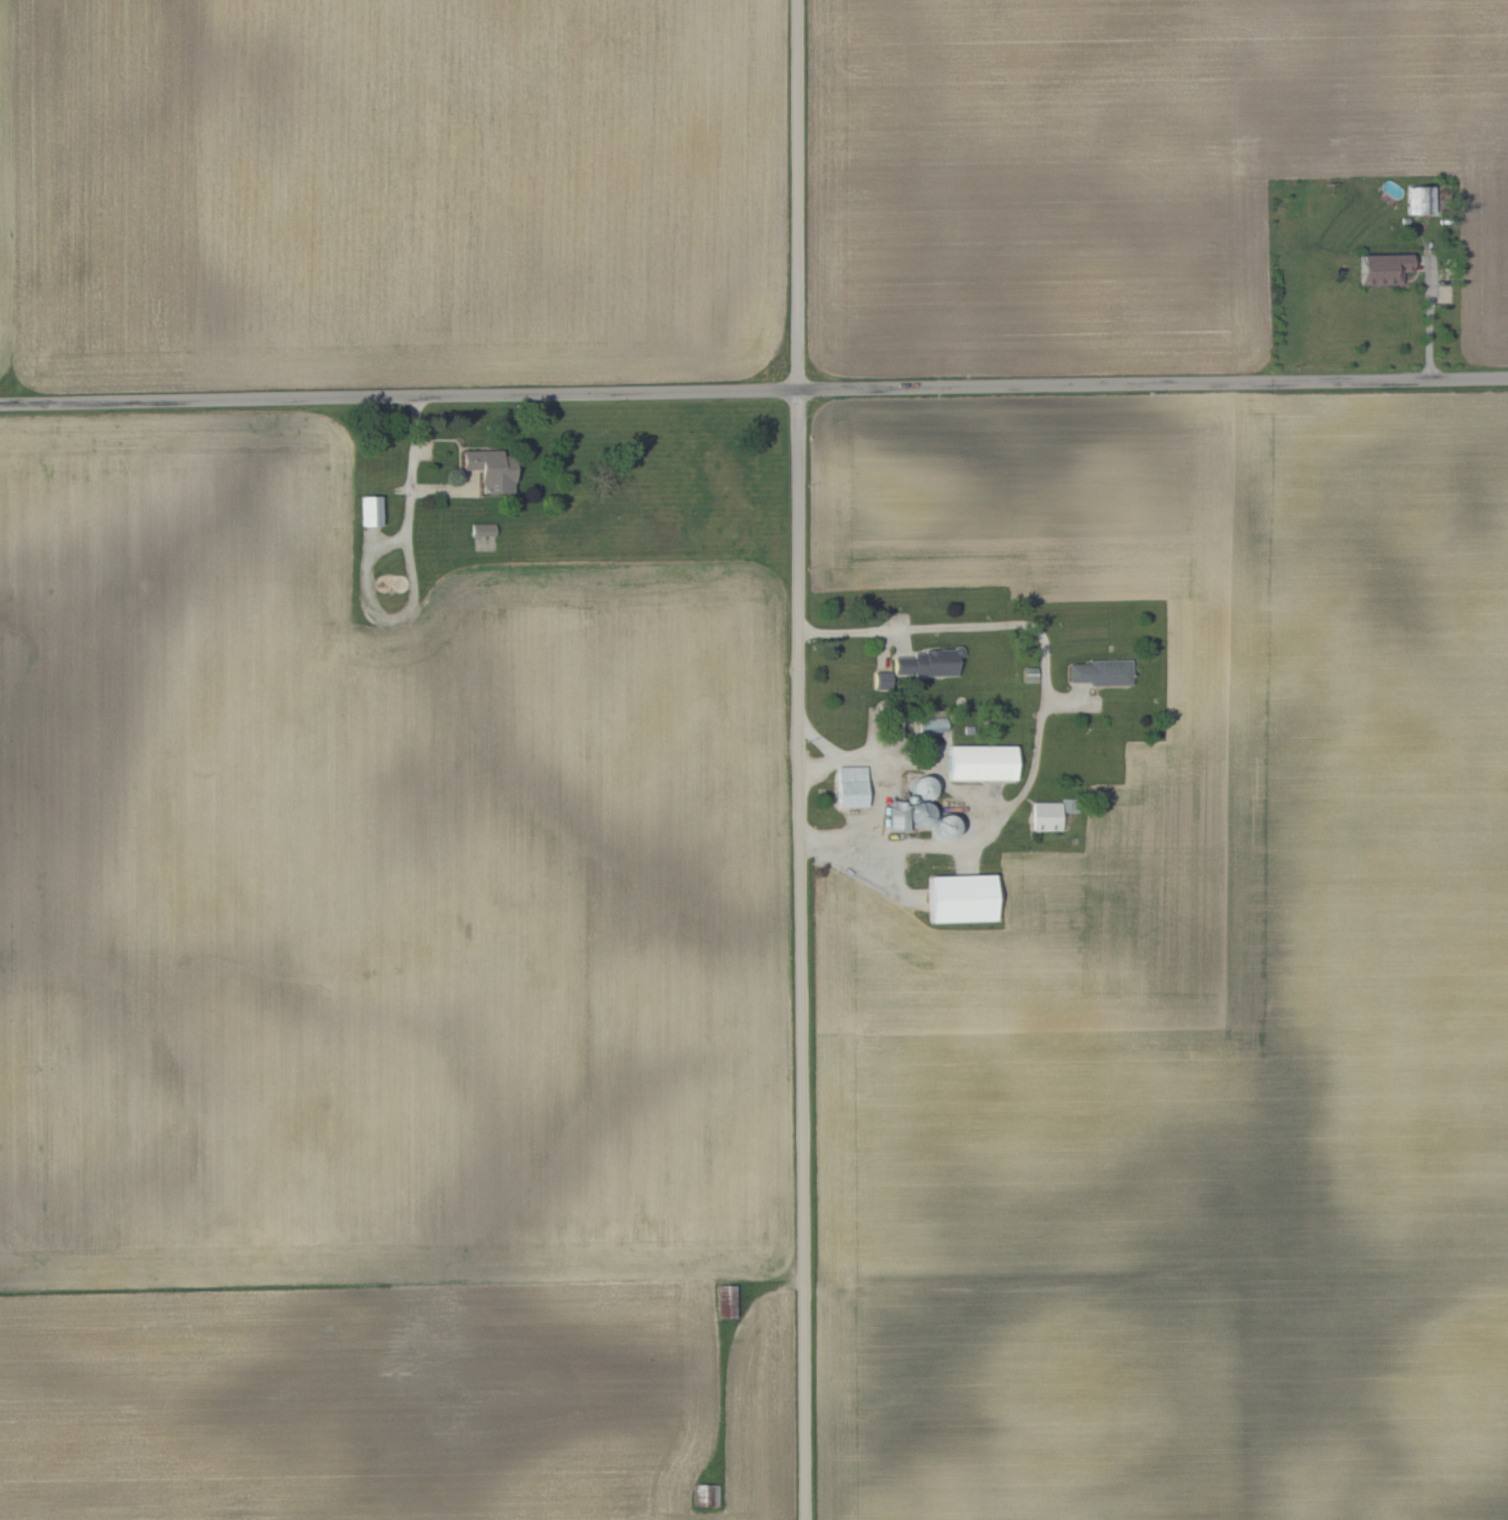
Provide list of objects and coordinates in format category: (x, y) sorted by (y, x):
building: (1418, 198)
building: (1381, 267)
road: (1430, 313)
road: (753, 388)
road: (412, 466)
building: (489, 468)
building: (369, 509)
building: (481, 528)
building: (921, 662)
building: (1098, 671)
building: (881, 677)
road: (1045, 709)
building: (931, 724)
road: (804, 760)
building: (979, 761)
road: (878, 762)
building: (849, 785)
building: (1045, 815)
building: (959, 897)
building: (722, 1298)
building: (705, 1492)

